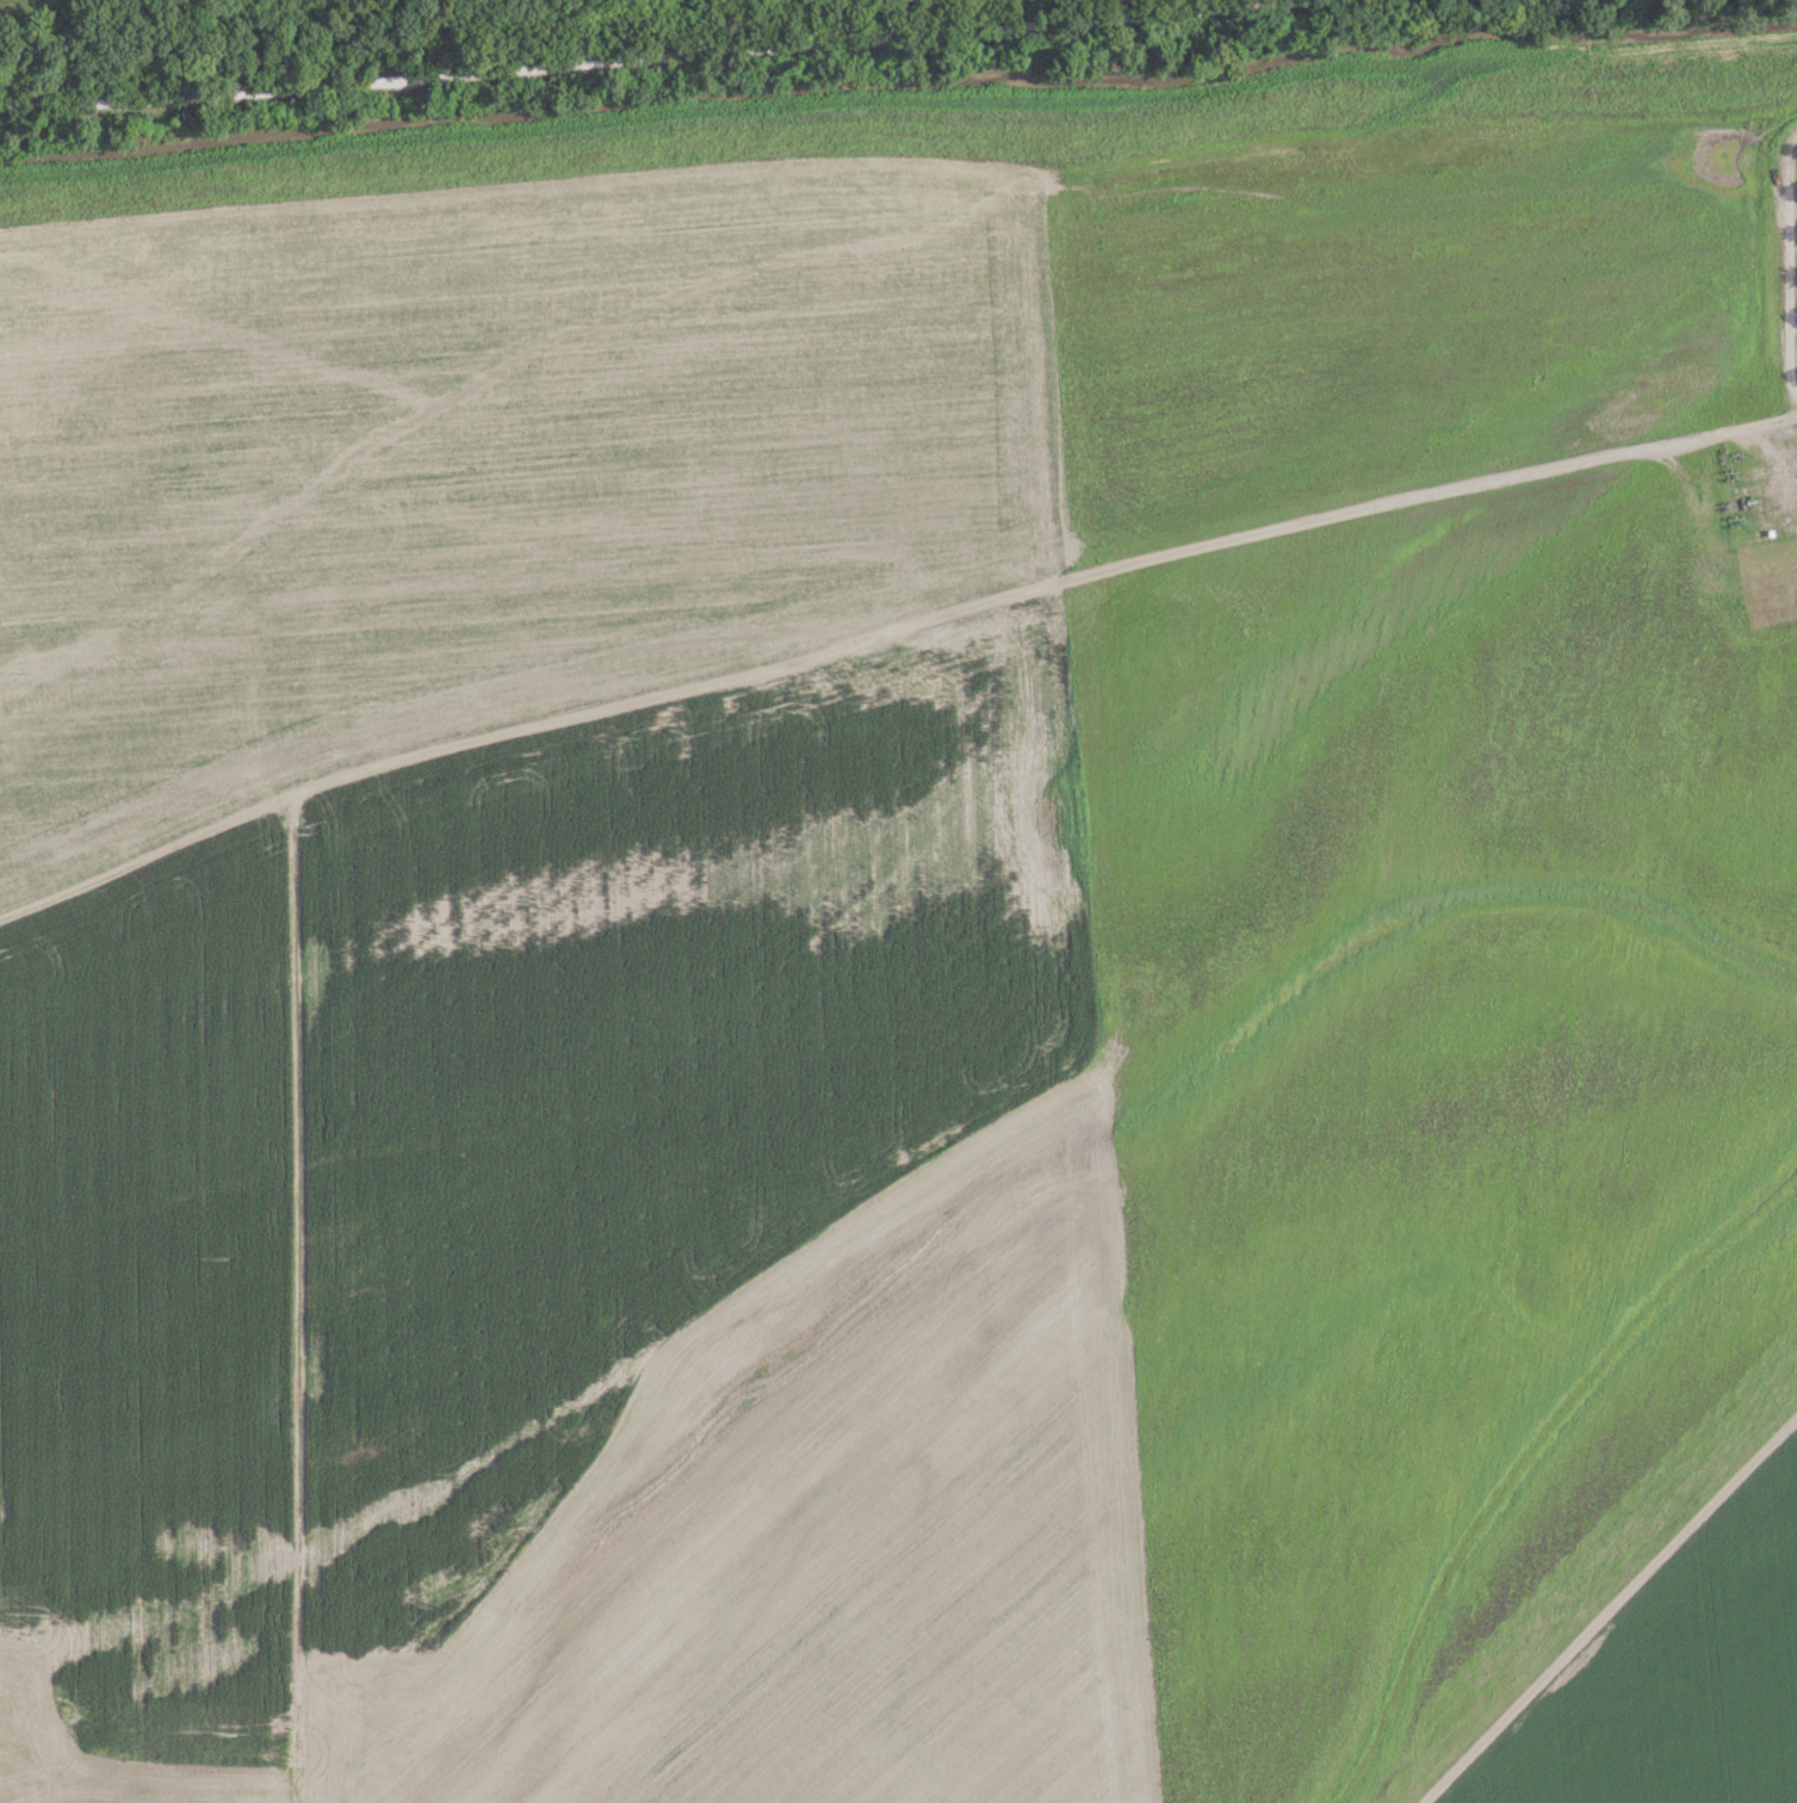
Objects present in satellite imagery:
road: (675, 54)
road: (1783, 266)

